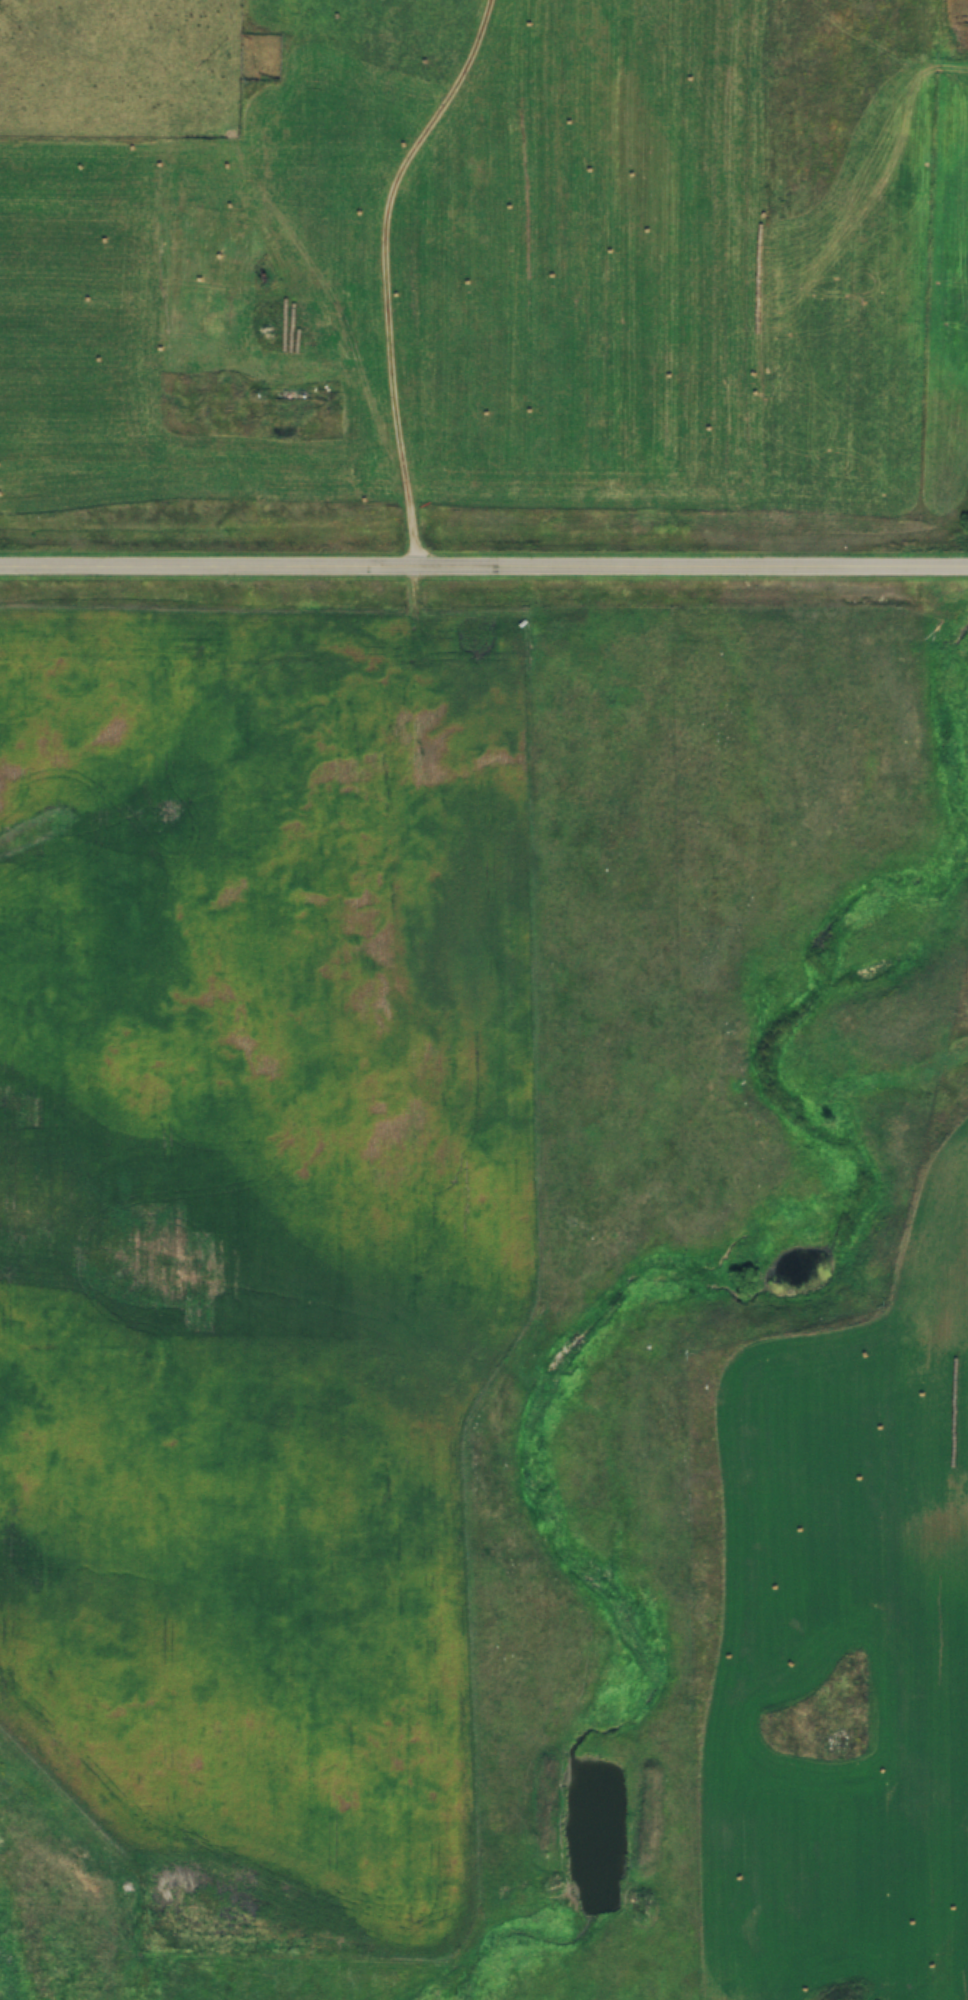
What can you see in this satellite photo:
road: (380, 288)
road: (483, 561)

